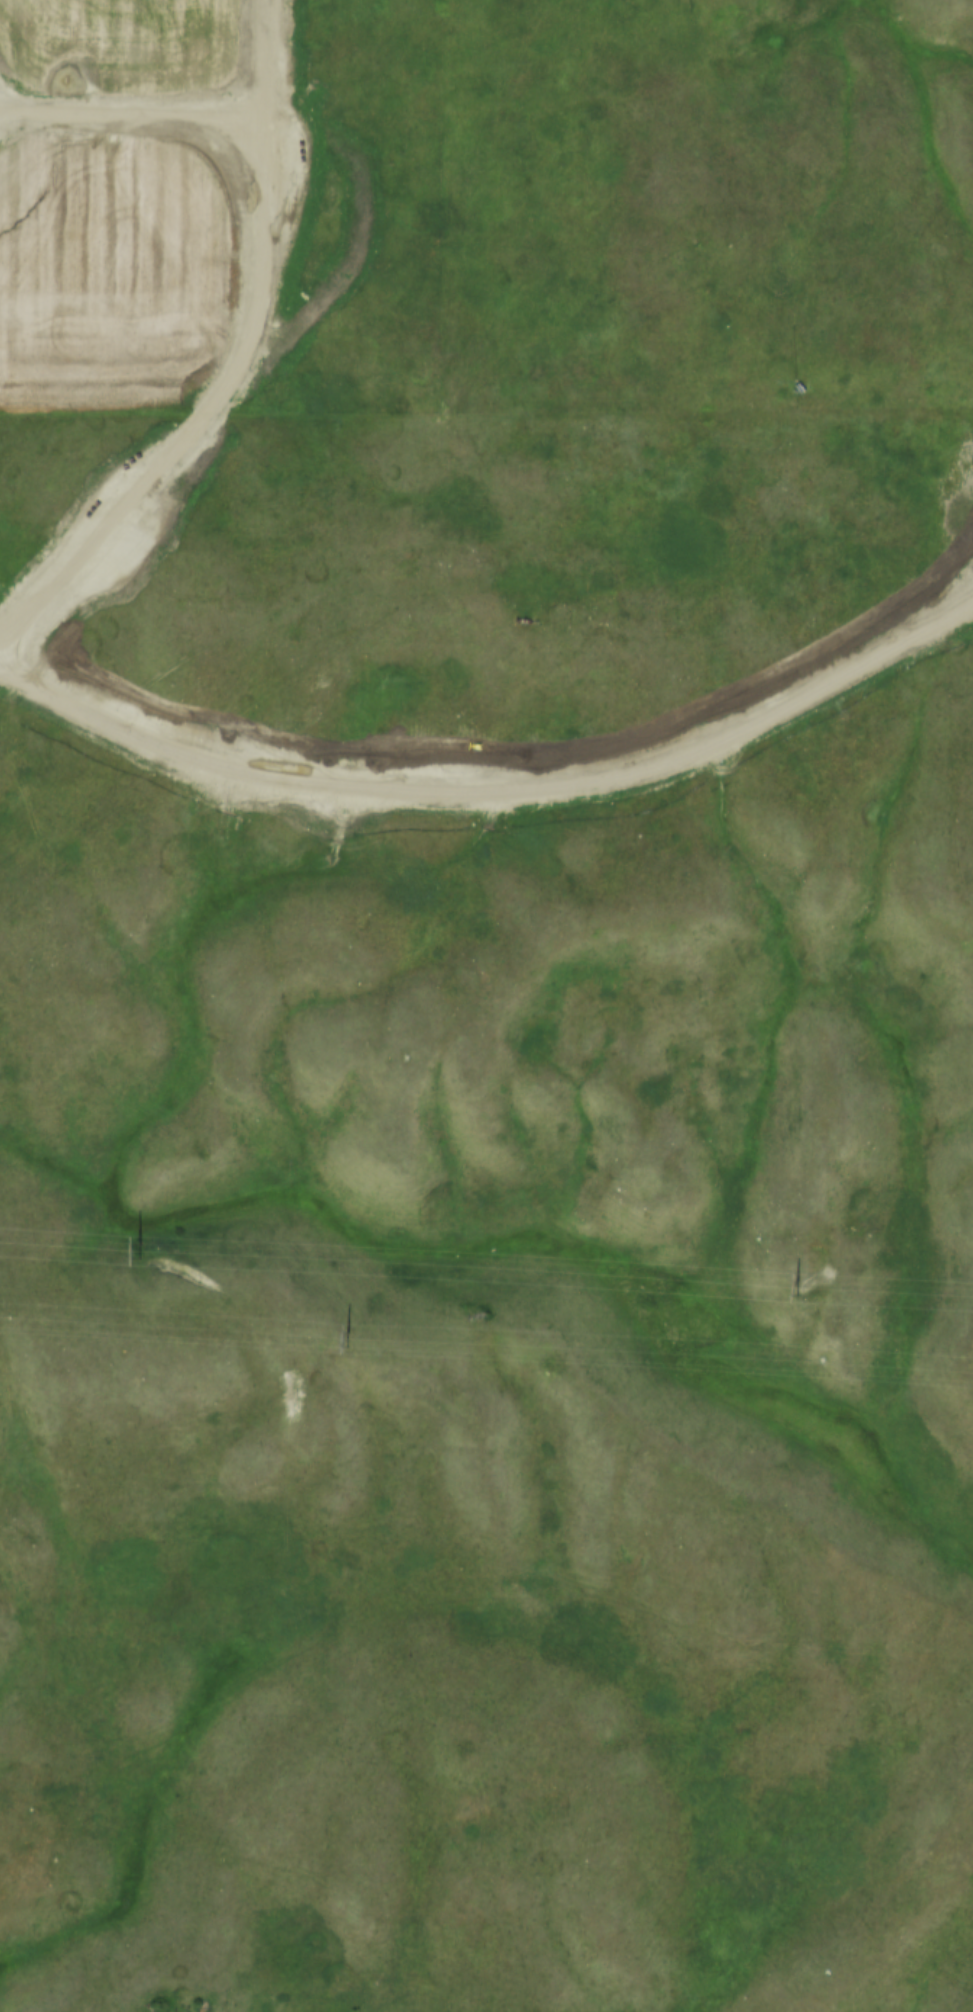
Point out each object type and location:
power tower: (351, 1339)

